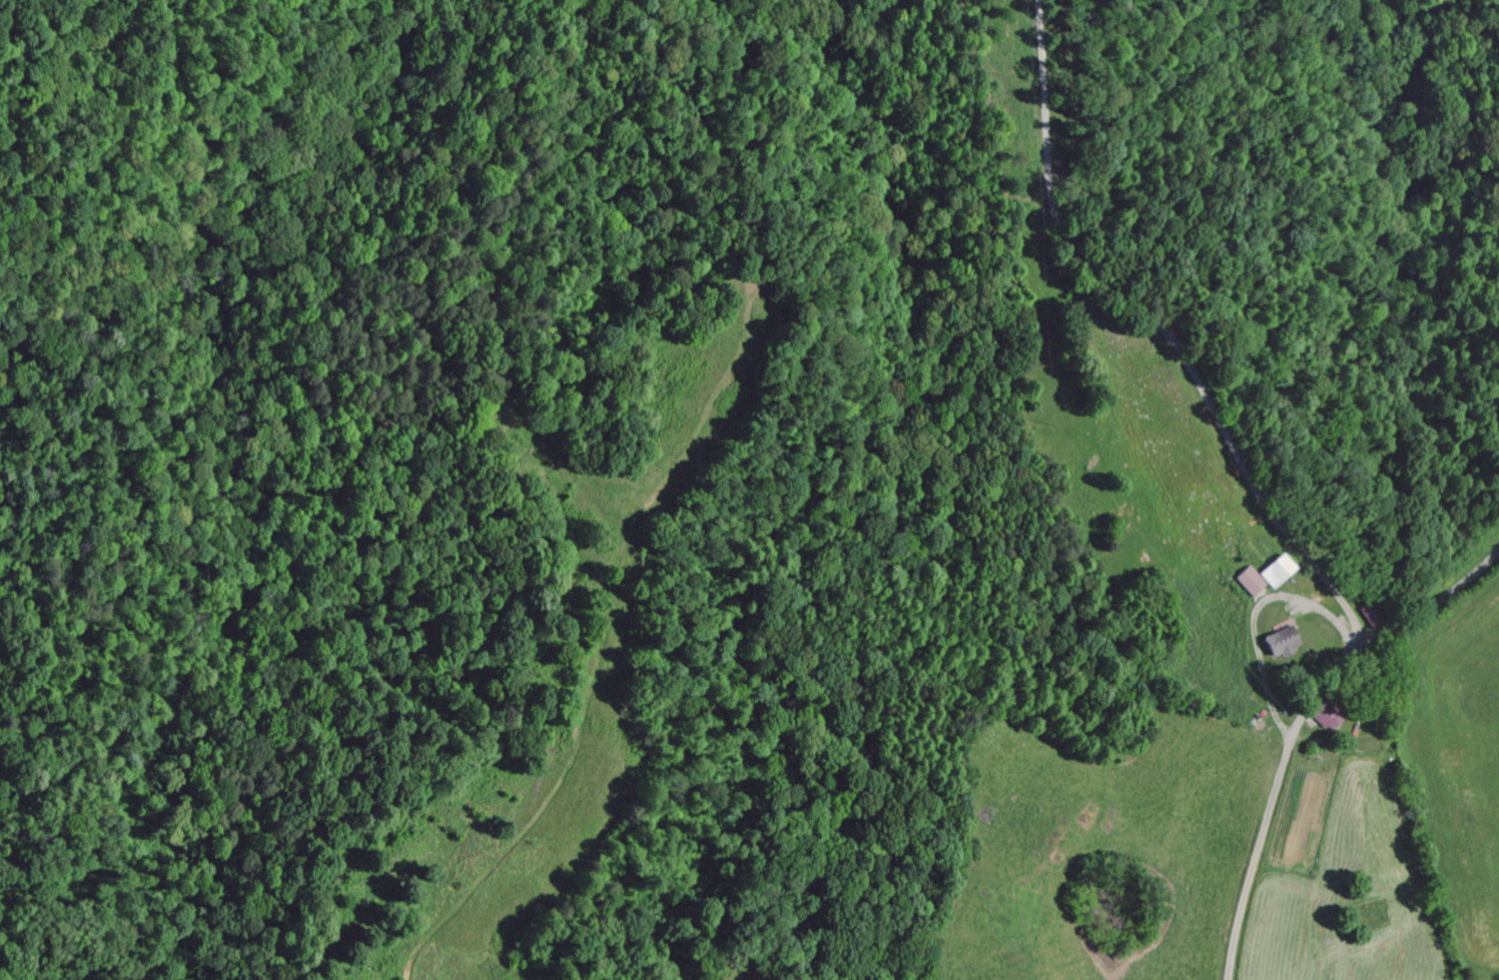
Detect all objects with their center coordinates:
building: (1271, 574)
building: (1245, 584)
building: (1277, 645)
road: (974, 677)
building: (1322, 720)
road: (1333, 748)

